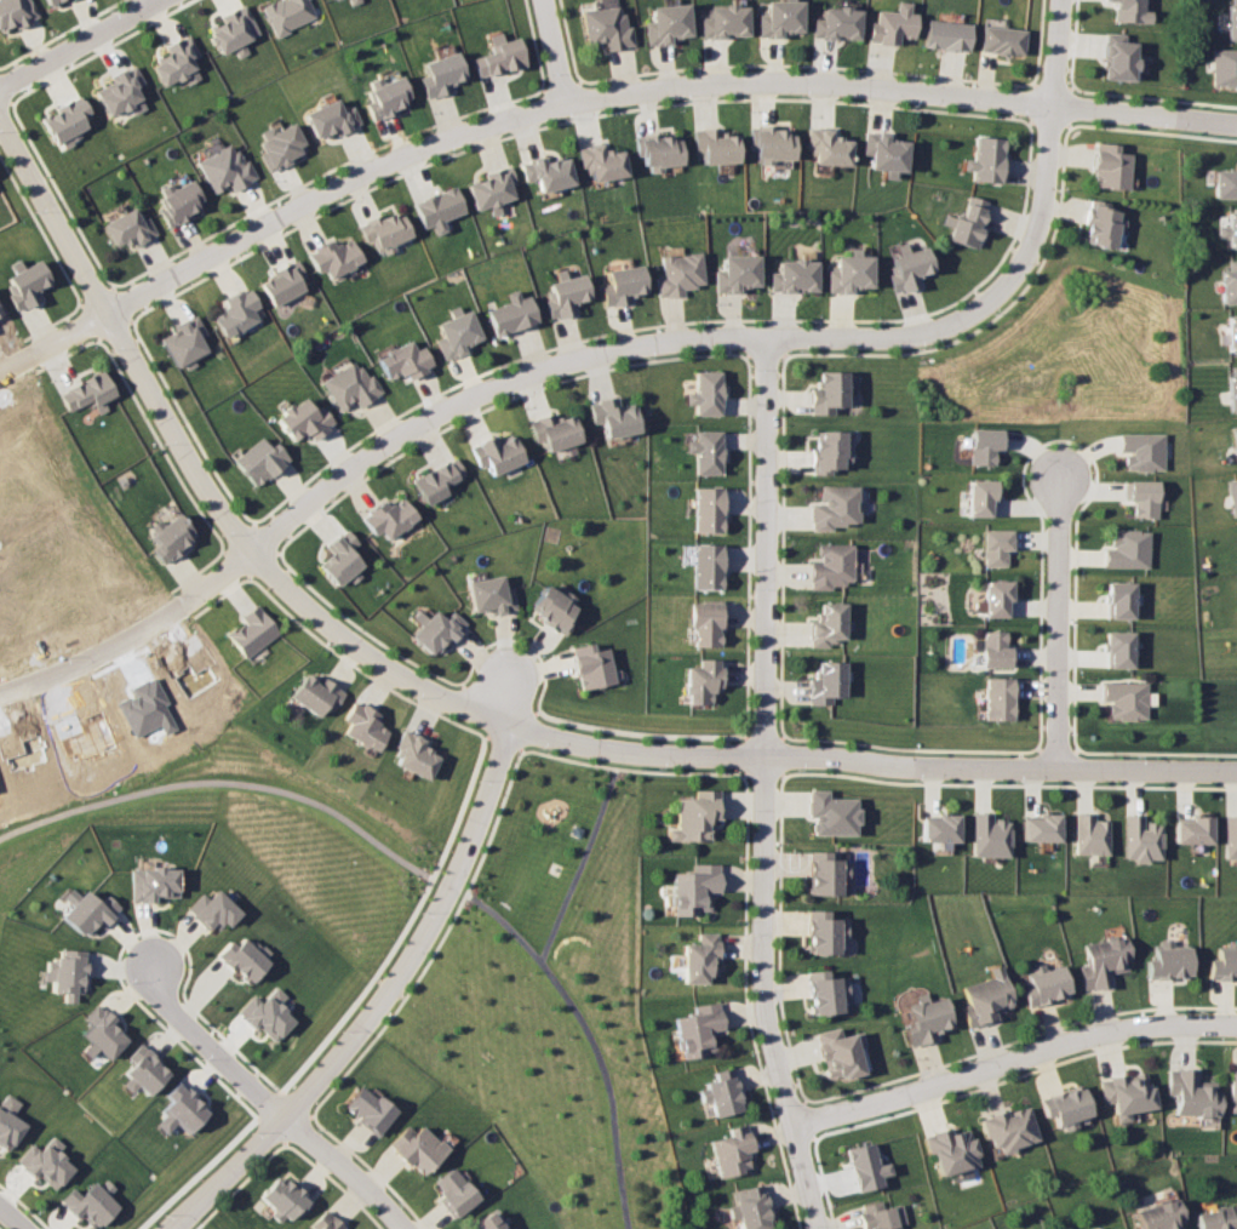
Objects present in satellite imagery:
building: (53, 1)
building: (354, 1)
building: (1132, 11)
building: (16, 12)
building: (288, 13)
building: (779, 17)
building: (1232, 19)
building: (725, 21)
building: (666, 23)
building: (837, 23)
building: (894, 24)
building: (605, 25)
building: (949, 35)
building: (1004, 40)
road: (80, 44)
road: (554, 51)
building: (498, 56)
building: (1119, 57)
building: (178, 61)
building: (1225, 67)
building: (439, 74)
building: (122, 92)
building: (385, 95)
road: (6, 96)
road: (4, 102)
road: (561, 104)
building: (330, 118)
building: (69, 120)
road: (1209, 121)
building: (280, 144)
building: (773, 144)
building: (715, 145)
building: (831, 147)
building: (659, 152)
building: (887, 153)
building: (987, 159)
road: (1049, 159)
building: (602, 161)
building: (1111, 166)
building: (546, 172)
building: (1225, 182)
building: (491, 189)
building: (179, 200)
building: (437, 208)
building: (970, 222)
building: (1101, 224)
building: (127, 228)
building: (1229, 229)
building: (385, 230)
building: (334, 256)
building: (910, 268)
building: (851, 271)
building: (737, 273)
building: (678, 274)
building: (795, 275)
building: (281, 282)
building: (1229, 282)
building: (25, 284)
building: (620, 284)
building: (565, 295)
building: (237, 311)
building: (510, 313)
building: (1231, 332)
building: (454, 333)
building: (185, 342)
building: (402, 360)
road: (551, 366)
building: (349, 384)
building: (1232, 387)
building: (87, 391)
building: (827, 391)
building: (705, 393)
building: (612, 416)
building: (302, 419)
building: (552, 430)
building: (1233, 441)
building: (984, 445)
building: (1140, 450)
building: (705, 451)
building: (826, 451)
building: (494, 453)
building: (258, 459)
building: (435, 480)
building: (1232, 493)
building: (980, 496)
building: (1142, 497)
building: (835, 507)
building: (706, 509)
building: (388, 518)
building: (170, 536)
building: (997, 545)
building: (1127, 549)
building: (340, 559)
building: (703, 564)
building: (831, 566)
building: (488, 594)
building: (998, 598)
building: (1121, 599)
building: (550, 607)
building: (704, 622)
building: (827, 624)
road: (1060, 624)
building: (434, 630)
building: (251, 631)
road: (519, 639)
road: (88, 647)
building: (1121, 648)
building: (997, 650)
building: (589, 665)
building: (703, 681)
building: (826, 682)
road: (419, 686)
building: (315, 694)
building: (1000, 697)
road: (506, 698)
road: (496, 699)
building: (1127, 699)
road: (473, 708)
building: (362, 726)
road: (523, 730)
road: (499, 739)
building: (412, 755)
road: (870, 761)
road: (224, 783)
road: (766, 784)
building: (832, 813)
building: (695, 816)
building: (940, 828)
building: (1041, 828)
building: (1192, 829)
building: (574, 830)
building: (1090, 834)
building: (990, 835)
building: (1230, 838)
building: (1141, 839)
road: (583, 857)
building: (826, 871)
building: (151, 882)
building: (695, 888)
building: (212, 909)
building: (85, 910)
road: (405, 926)
building: (824, 932)
road: (437, 944)
building: (244, 958)
building: (700, 958)
building: (1103, 961)
building: (1169, 961)
building: (1224, 964)
building: (64, 972)
building: (1044, 984)
building: (826, 993)
building: (985, 998)
park: (557, 1004)
road: (196, 1010)
building: (267, 1013)
building: (927, 1019)
road: (162, 1027)
building: (699, 1029)
building: (99, 1031)
road: (591, 1039)
road: (210, 1045)
building: (840, 1052)
road: (1014, 1064)
building: (142, 1070)
building: (1232, 1091)
building: (1192, 1092)
building: (720, 1093)
building: (1126, 1093)
road: (269, 1103)
road: (298, 1105)
building: (1066, 1107)
building: (181, 1108)
building: (370, 1110)
building: (8, 1121)
road: (271, 1128)
road: (294, 1128)
building: (1012, 1128)
building: (418, 1147)
building: (731, 1150)
building: (953, 1150)
building: (44, 1161)
building: (866, 1166)
road: (347, 1170)
road: (372, 1170)
road: (199, 1173)
road: (336, 1183)
road: (240, 1185)
building: (456, 1191)
building: (285, 1199)
building: (88, 1202)
road: (23, 1206)
building: (749, 1207)
building: (881, 1216)
building: (1161, 1216)
road: (11, 1218)
building: (1218, 1218)
building: (326, 1222)
building: (487, 1222)
building: (1119, 1228)

